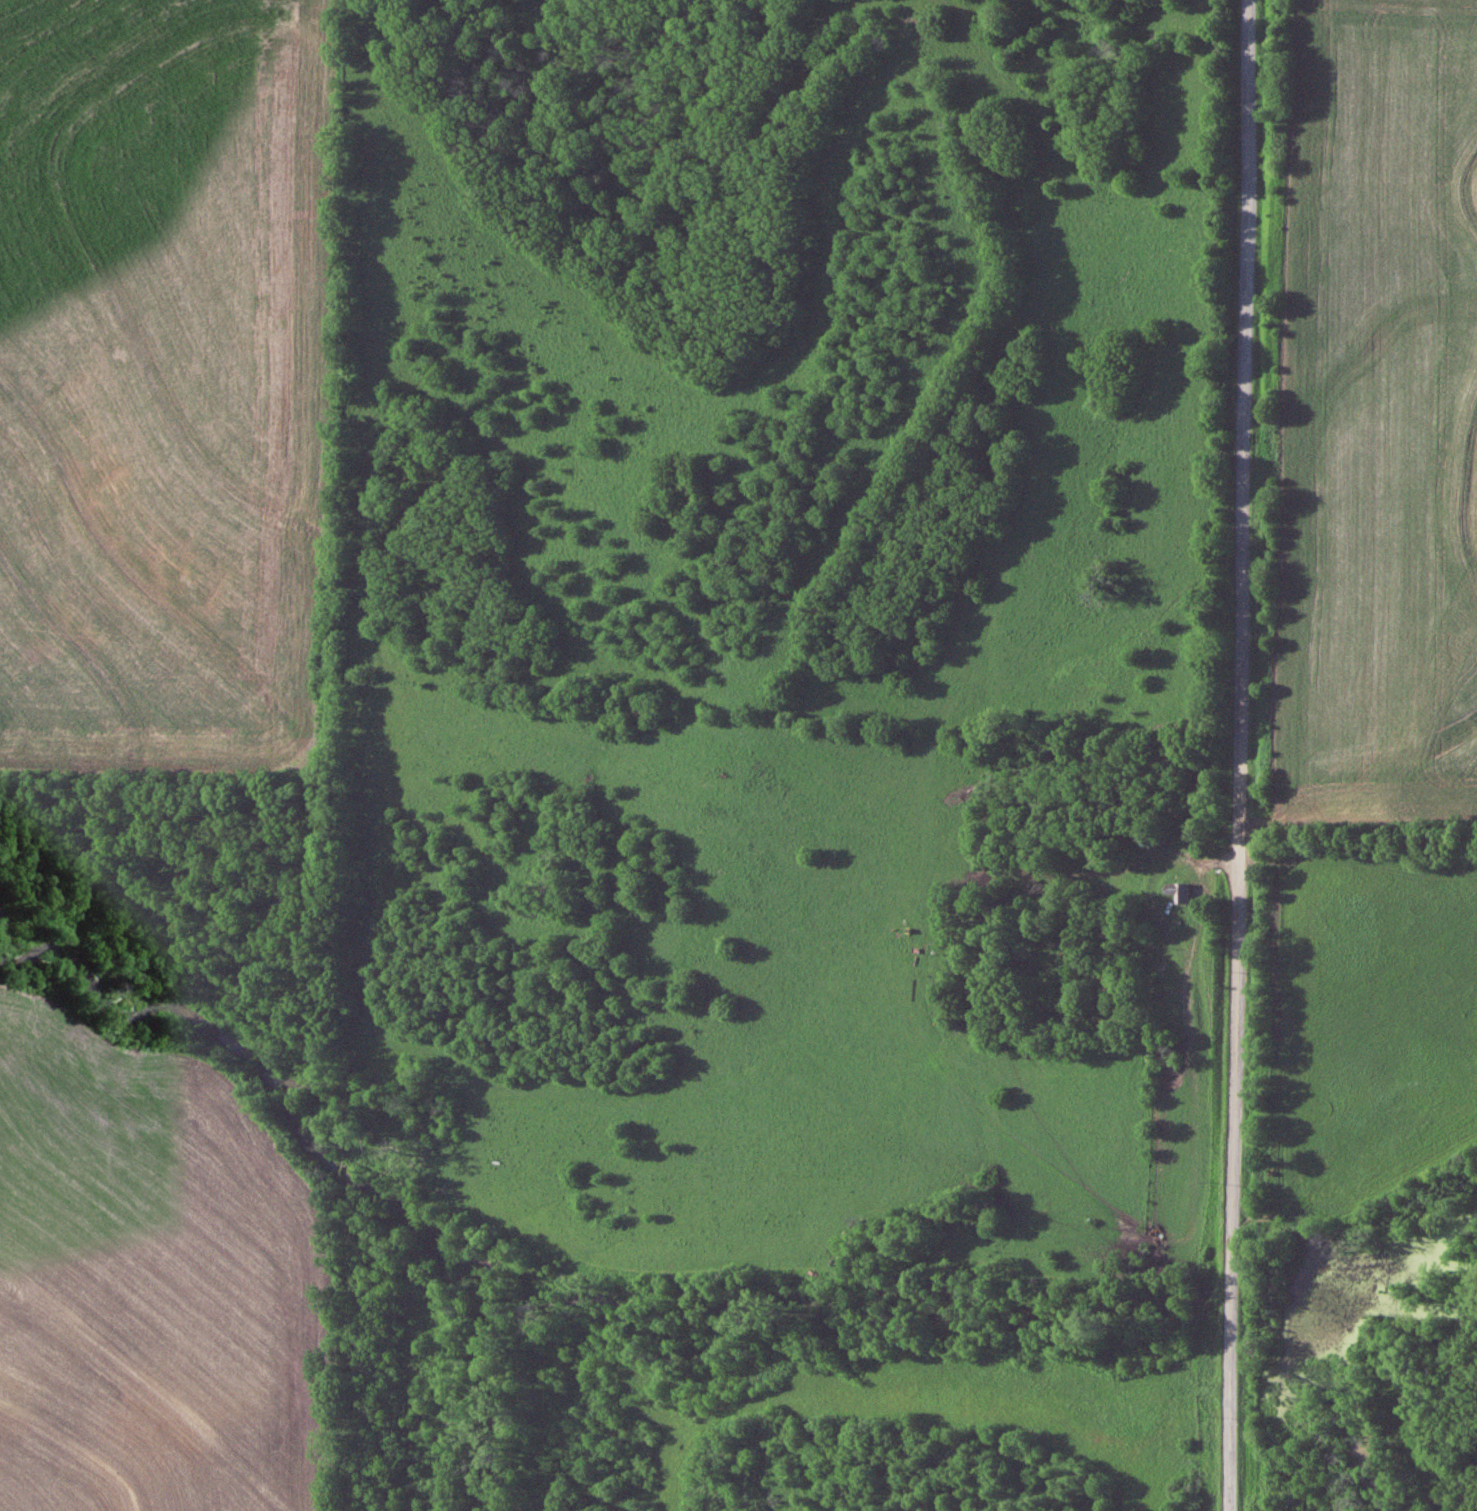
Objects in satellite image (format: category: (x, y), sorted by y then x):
road: (1235, 755)
building: (1177, 891)

